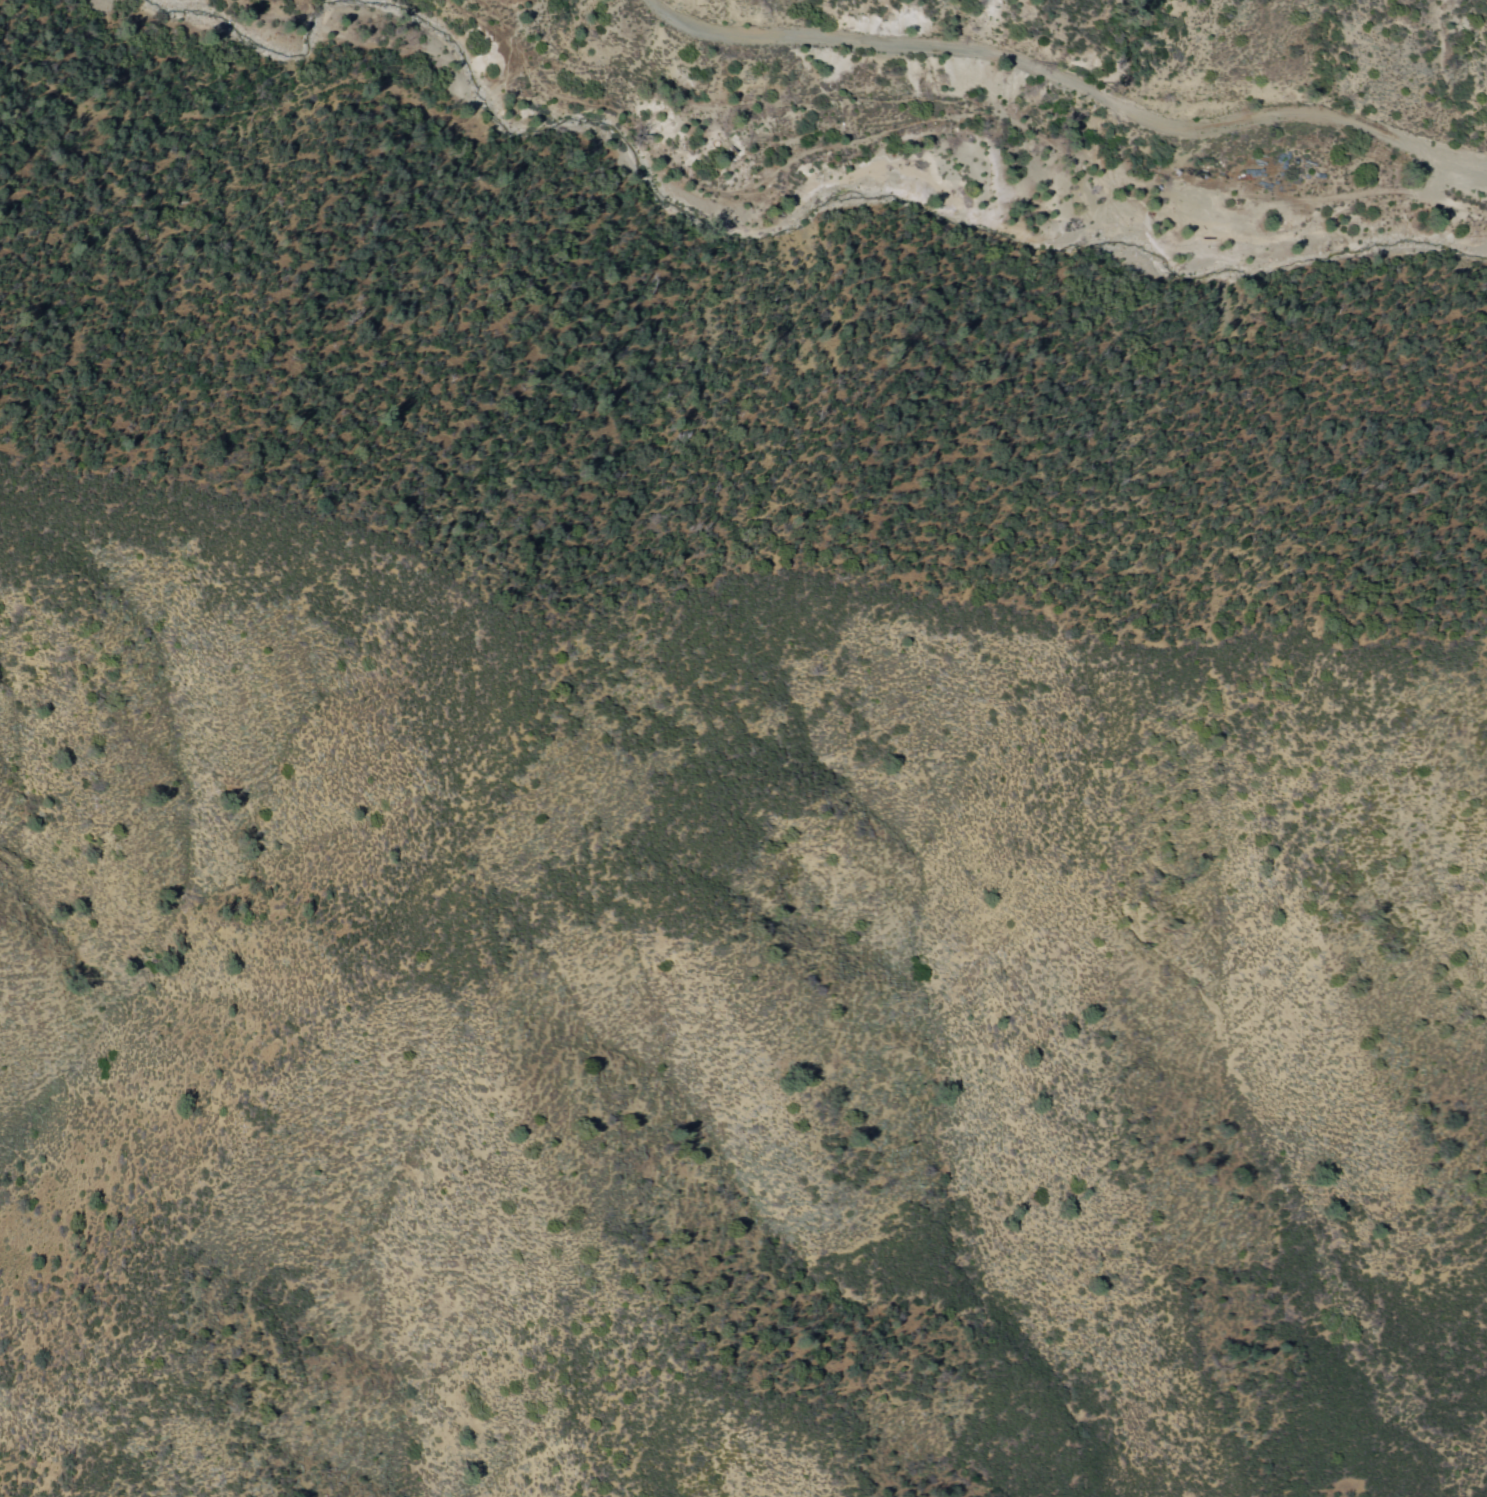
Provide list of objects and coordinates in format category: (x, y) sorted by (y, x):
road: (1066, 111)

